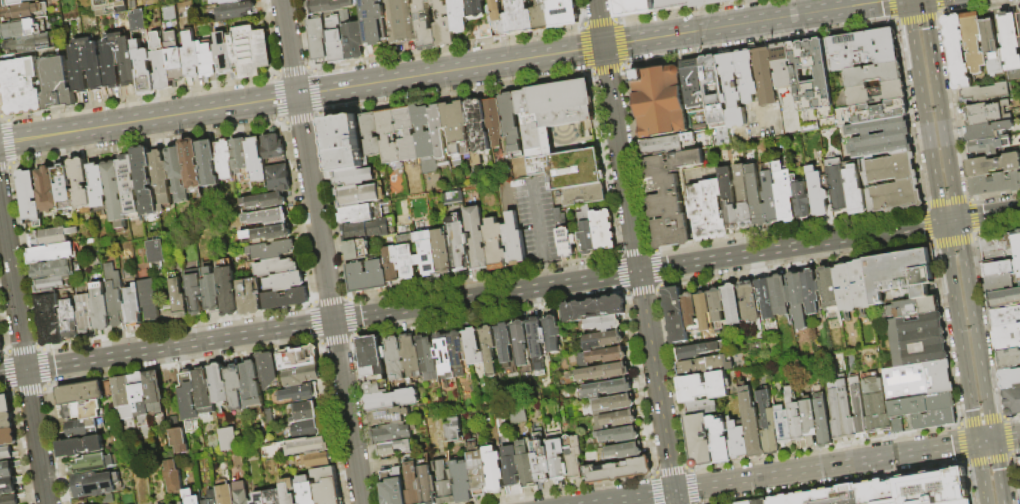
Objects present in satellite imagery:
building: (0, 0)
building: (14, 2)
building: (228, 2)
building: (670, 3)
building: (711, 3)
building: (329, 6)
building: (109, 7)
building: (636, 8)
building: (478, 9)
building: (25, 12)
building: (234, 12)
building: (563, 13)
building: (459, 16)
building: (541, 16)
building: (497, 18)
building: (519, 18)
building: (135, 19)
building: (1019, 20)
building: (373, 22)
building: (402, 22)
building: (444, 25)
building: (425, 27)
building: (25, 28)
building: (335, 31)
building: (485, 32)
building: (353, 37)
building: (318, 38)
building: (1019, 40)
building: (973, 42)
building: (29, 44)
traffic signals: (602, 44)
building: (1010, 45)
building: (991, 48)
building: (860, 50)
building: (250, 51)
building: (956, 52)
building: (224, 53)
building: (338, 53)
building: (191, 56)
building: (175, 58)
building: (126, 59)
building: (208, 60)
building: (104, 64)
building: (161, 64)
building: (80, 65)
building: (781, 66)
building: (144, 69)
road: (433, 70)
building: (747, 75)
building: (872, 75)
building: (764, 76)
building: (693, 83)
building: (57, 85)
building: (811, 86)
building: (22, 87)
building: (713, 90)
building: (731, 91)
traffic signals: (296, 93)
building: (876, 93)
building: (986, 93)
building: (658, 102)
road: (939, 109)
building: (552, 110)
building: (870, 112)
road: (924, 112)
building: (986, 113)
building: (510, 121)
building: (492, 122)
building: (477, 126)
building: (456, 130)
building: (987, 131)
building: (407, 134)
building: (371, 135)
building: (439, 135)
building: (720, 135)
building: (389, 136)
building: (879, 137)
building: (425, 139)
building: (343, 143)
building: (667, 143)
building: (988, 146)
building: (274, 148)
building: (240, 155)
building: (225, 159)
building: (257, 160)
building: (193, 164)
building: (208, 164)
building: (992, 166)
building: (178, 174)
building: (354, 177)
building: (279, 178)
building: (162, 179)
building: (146, 182)
building: (81, 184)
building: (129, 184)
building: (835, 184)
building: (893, 184)
building: (995, 184)
building: (64, 185)
building: (97, 187)
building: (48, 191)
building: (114, 191)
building: (817, 191)
building: (854, 191)
building: (783, 193)
building: (356, 195)
building: (584, 195)
building: (451, 196)
building: (31, 197)
building: (667, 197)
building: (755, 197)
building: (743, 199)
building: (770, 199)
building: (728, 200)
building: (801, 200)
building: (267, 201)
building: (706, 211)
building: (357, 214)
road: (989, 216)
building: (267, 217)
road: (539, 220)
traffic signals: (959, 221)
traffic signals: (942, 224)
building: (364, 230)
building: (602, 230)
building: (585, 232)
building: (270, 234)
building: (53, 236)
building: (564, 236)
building: (476, 237)
building: (513, 240)
building: (494, 245)
road: (634, 245)
building: (457, 246)
building: (1017, 249)
building: (357, 250)
building: (996, 250)
building: (271, 251)
road: (321, 251)
building: (157, 252)
building: (441, 252)
building: (426, 253)
building: (52, 254)
building: (407, 262)
building: (391, 265)
building: (276, 268)
building: (1000, 269)
building: (54, 270)
traffic signals: (639, 272)
road: (547, 273)
building: (900, 275)
building: (366, 277)
building: (285, 282)
building: (1000, 283)
building: (50, 285)
building: (853, 287)
building: (829, 289)
building: (212, 291)
building: (229, 293)
building: (810, 293)
building: (196, 294)
building: (781, 296)
building: (116, 297)
road: (479, 298)
building: (149, 299)
building: (249, 299)
building: (1004, 299)
building: (179, 300)
building: (286, 300)
building: (797, 301)
building: (749, 302)
building: (767, 302)
building: (717, 305)
building: (732, 305)
building: (134, 306)
building: (101, 308)
building: (914, 308)
building: (594, 309)
building: (689, 310)
building: (704, 312)
building: (86, 314)
building: (676, 315)
building: (1006, 318)
building: (51, 321)
building: (70, 321)
traffic signals: (333, 322)
building: (606, 324)
road: (958, 333)
building: (553, 334)
building: (1007, 339)
building: (604, 340)
building: (918, 341)
building: (521, 343)
building: (537, 344)
building: (505, 345)
building: (1, 347)
building: (474, 347)
building: (489, 350)
building: (697, 351)
building: (458, 353)
road: (23, 355)
building: (445, 356)
building: (607, 356)
building: (371, 357)
building: (411, 357)
building: (299, 358)
building: (428, 359)
building: (395, 360)
building: (1009, 360)
road: (981, 362)
building: (704, 366)
building: (267, 370)
traffic signals: (26, 371)
building: (605, 372)
building: (302, 376)
building: (1010, 380)
building: (918, 381)
building: (219, 384)
building: (253, 385)
building: (235, 387)
building: (203, 388)
building: (608, 388)
building: (703, 388)
building: (374, 389)
building: (139, 391)
building: (155, 392)
building: (81, 393)
building: (123, 393)
building: (298, 394)
building: (188, 396)
building: (392, 400)
building: (1013, 402)
building: (613, 404)
building: (5, 405)
building: (922, 406)
building: (702, 408)
building: (857, 408)
building: (875, 408)
building: (82, 411)
building: (839, 411)
building: (304, 412)
building: (517, 415)
building: (389, 416)
building: (794, 417)
building: (808, 419)
building: (935, 420)
building: (615, 421)
building: (7, 422)
building: (823, 422)
building: (768, 424)
building: (783, 424)
building: (752, 425)
building: (897, 426)
building: (83, 428)
building: (451, 429)
building: (307, 430)
building: (392, 434)
building: (619, 435)
building: (8, 438)
building: (225, 438)
road: (998, 439)
building: (720, 441)
traffic signals: (993, 441)
building: (179, 442)
building: (699, 442)
building: (738, 442)
traffic signals: (977, 443)
building: (308, 446)
building: (82, 447)
building: (408, 447)
building: (391, 448)
building: (625, 451)
building: (7, 454)
building: (573, 458)
building: (541, 460)
building: (316, 461)
building: (558, 462)
building: (1019, 463)
building: (93, 464)
building: (510, 467)
building: (526, 467)
road: (825, 467)
building: (8, 468)
building: (494, 471)
building: (620, 472)
road: (981, 473)
building: (479, 475)
building: (173, 477)
building: (462, 481)
building: (444, 483)
building: (9, 484)
building: (96, 485)
building: (413, 485)
building: (328, 486)
building: (428, 486)
building: (395, 489)
building: (288, 491)
building: (306, 491)
traffic signals: (674, 492)
building: (888, 492)
building: (241, 493)
building: (224, 495)
building: (191, 497)
building: (274, 497)
building: (211, 498)
road: (636, 498)
road: (675, 498)
building: (11, 499)
building: (259, 499)
building: (756, 502)
building: (960, 502)
building: (164, 503)
building: (177, 503)
building: (183, 503)

